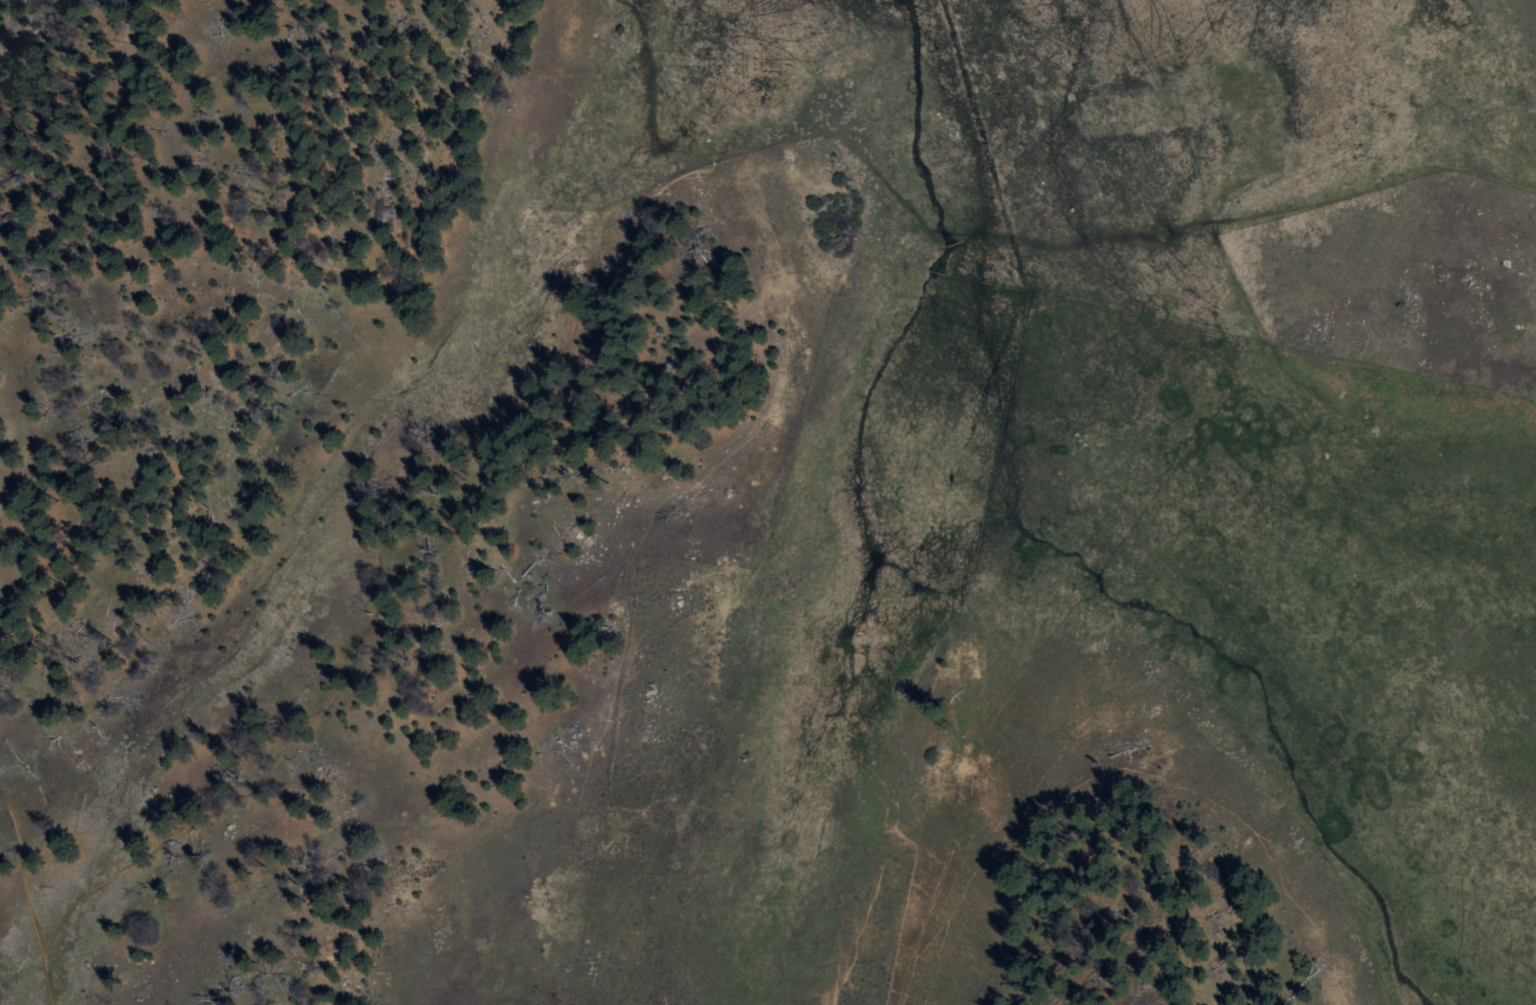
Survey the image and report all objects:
road: (659, 82)
road: (1095, 219)
road: (376, 547)
road: (642, 550)
road: (18, 880)
road: (41, 980)

